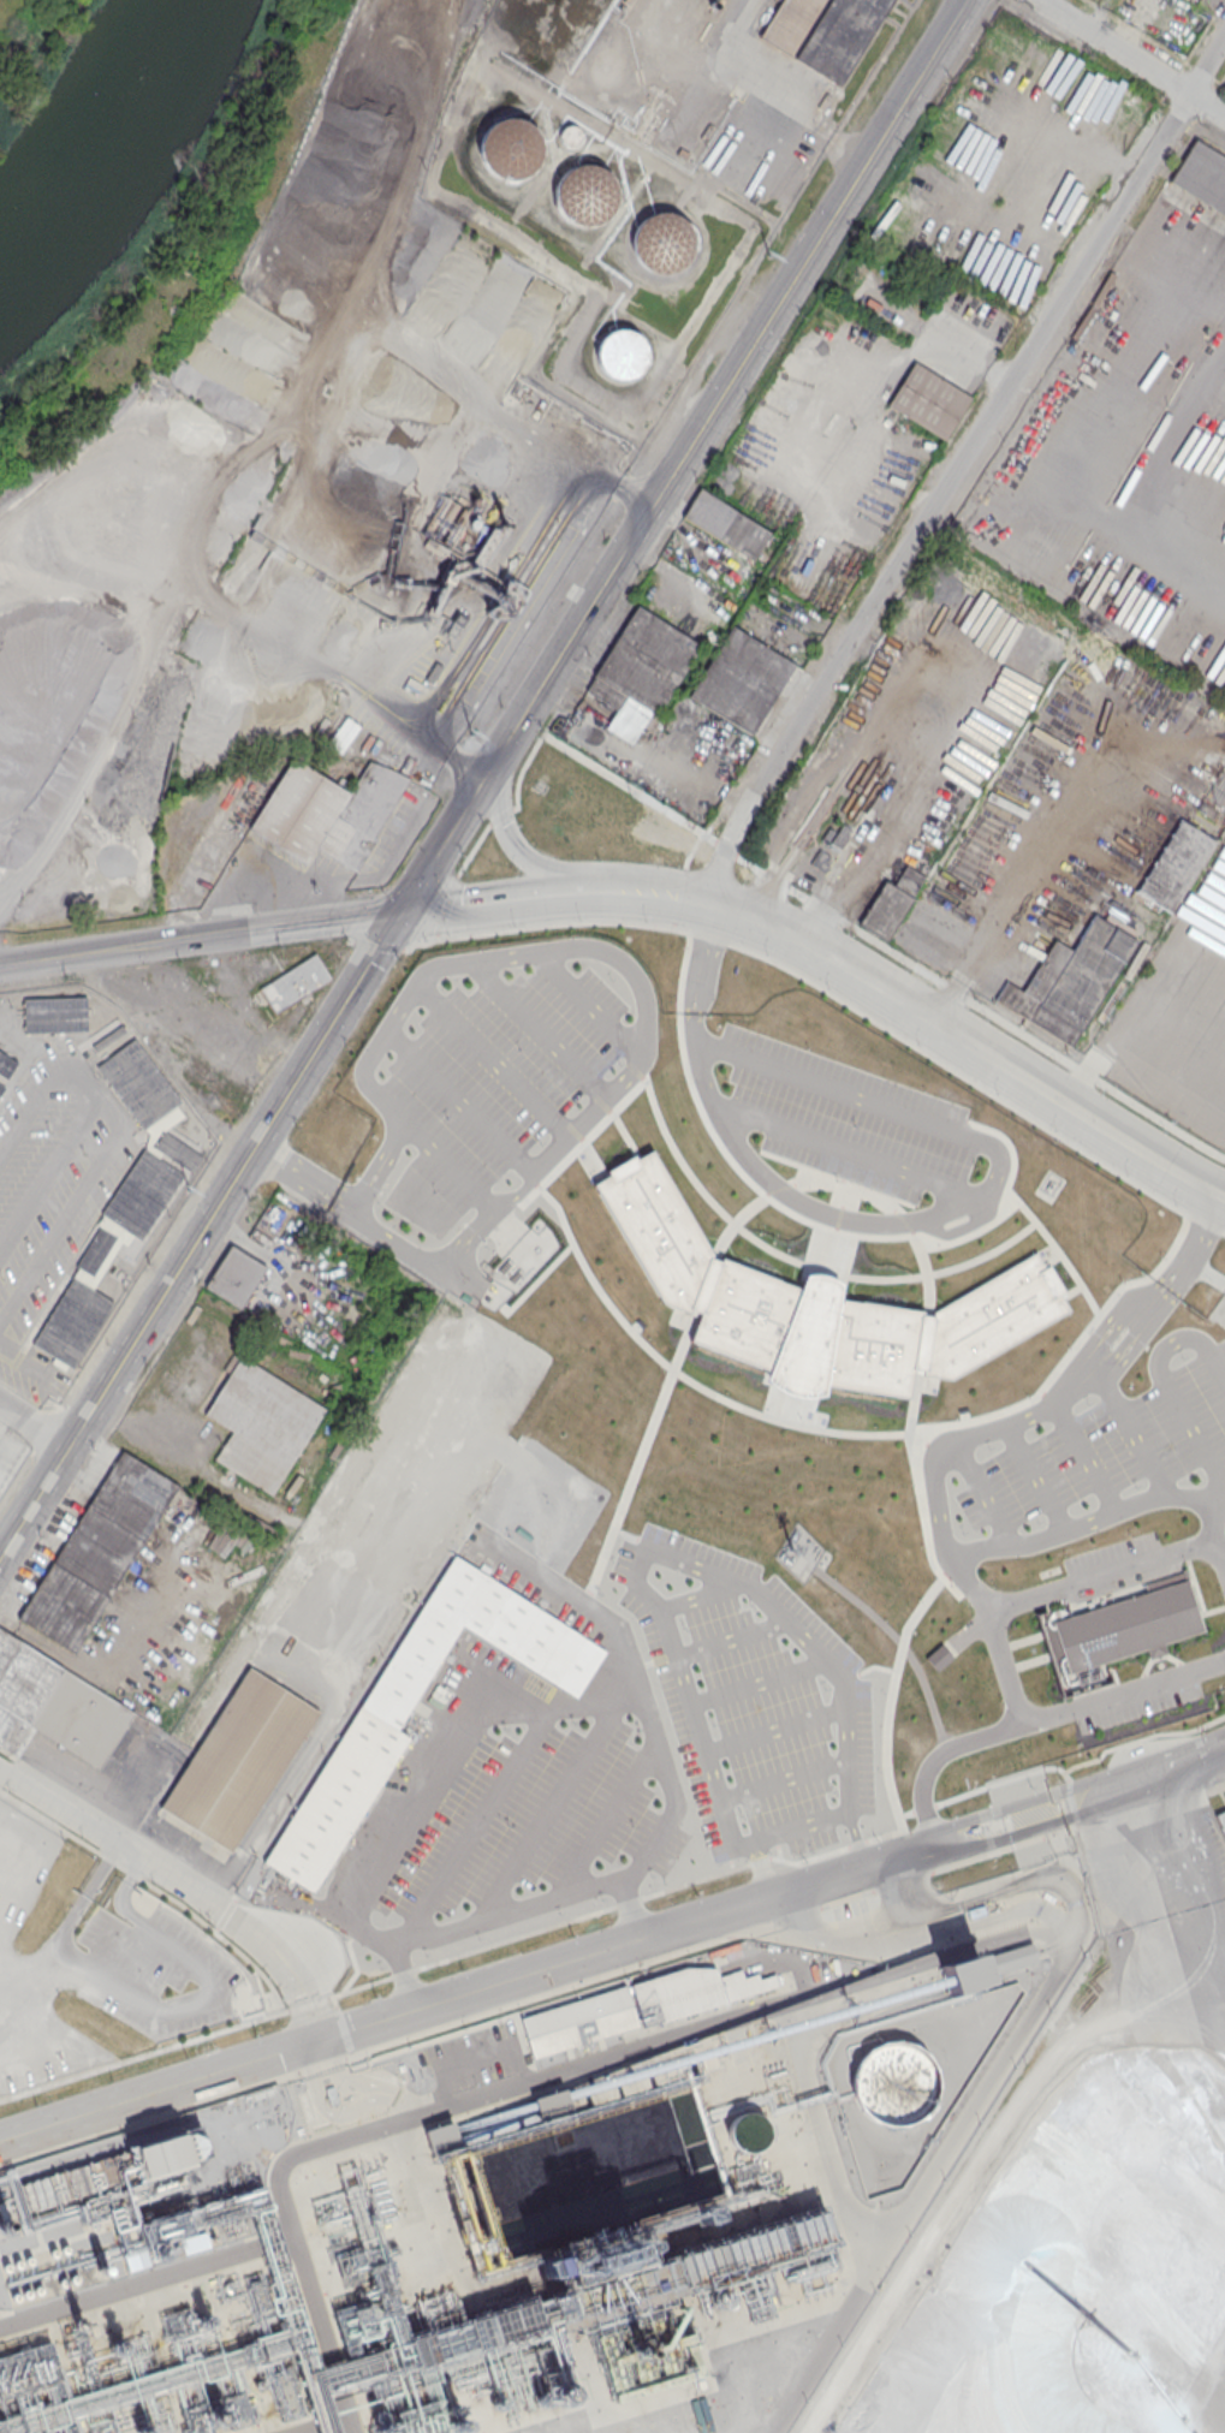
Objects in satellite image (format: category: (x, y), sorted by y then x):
building: (823, 31)
road: (1131, 58)
road: (768, 101)
building: (569, 135)
storage tank: (569, 135)
river: (105, 144)
building: (510, 148)
storage tank: (510, 148)
building: (1202, 176)
building: (585, 195)
storage tank: (585, 195)
building: (662, 242)
storage tank: (662, 242)
power tower: (767, 252)
park: (154, 267)
building: (1102, 290)
building: (1081, 322)
building: (620, 355)
storage tank: (620, 355)
building: (928, 400)
road: (684, 456)
road: (958, 464)
building: (726, 524)
building: (492, 537)
building: (503, 601)
building: (454, 624)
building: (648, 658)
building: (433, 672)
building: (741, 679)
building: (606, 691)
power tower: (471, 733)
road: (890, 752)
road: (624, 786)
building: (1214, 801)
building: (326, 811)
building: (827, 834)
building: (842, 835)
road: (511, 841)
road: (721, 846)
building: (820, 861)
building: (1172, 864)
road: (648, 891)
road: (492, 899)
building: (891, 902)
road: (1010, 904)
building: (1142, 905)
traffic signals: (400, 911)
road: (303, 923)
road: (103, 951)
building: (1071, 981)
building: (295, 982)
road: (641, 993)
road: (589, 1004)
road: (981, 1010)
building: (55, 1013)
road: (539, 1031)
road: (971, 1043)
road: (494, 1061)
building: (6, 1066)
building: (136, 1082)
road: (377, 1097)
road: (459, 1102)
road: (108, 1148)
road: (846, 1153)
road: (381, 1161)
road: (301, 1182)
road: (377, 1183)
power tower: (186, 1191)
road: (516, 1191)
road: (355, 1206)
road: (906, 1223)
road: (472, 1226)
road: (200, 1233)
road: (482, 1237)
building: (115, 1242)
road: (402, 1245)
building: (233, 1275)
building: (815, 1305)
road: (34, 1422)
building: (260, 1423)
road: (1132, 1430)
road: (986, 1434)
building: (6, 1441)
road: (1114, 1512)
building: (97, 1551)
road: (1099, 1578)
building: (1128, 1625)
building: (382, 1711)
road: (510, 1712)
road: (1033, 1720)
building: (252, 1741)
road: (1143, 1778)
building: (1219, 1820)
road: (165, 1878)
road: (505, 1915)
building: (981, 1965)
road: (529, 1970)
building: (631, 2006)
road: (314, 2019)
traffic signals: (319, 2036)
building: (896, 2082)
storage tank: (896, 2082)
building: (551, 2102)
building: (744, 2132)
storage tank: (744, 2132)
building: (440, 2134)
building: (97, 2175)
building: (28, 2369)
building: (646, 2379)

